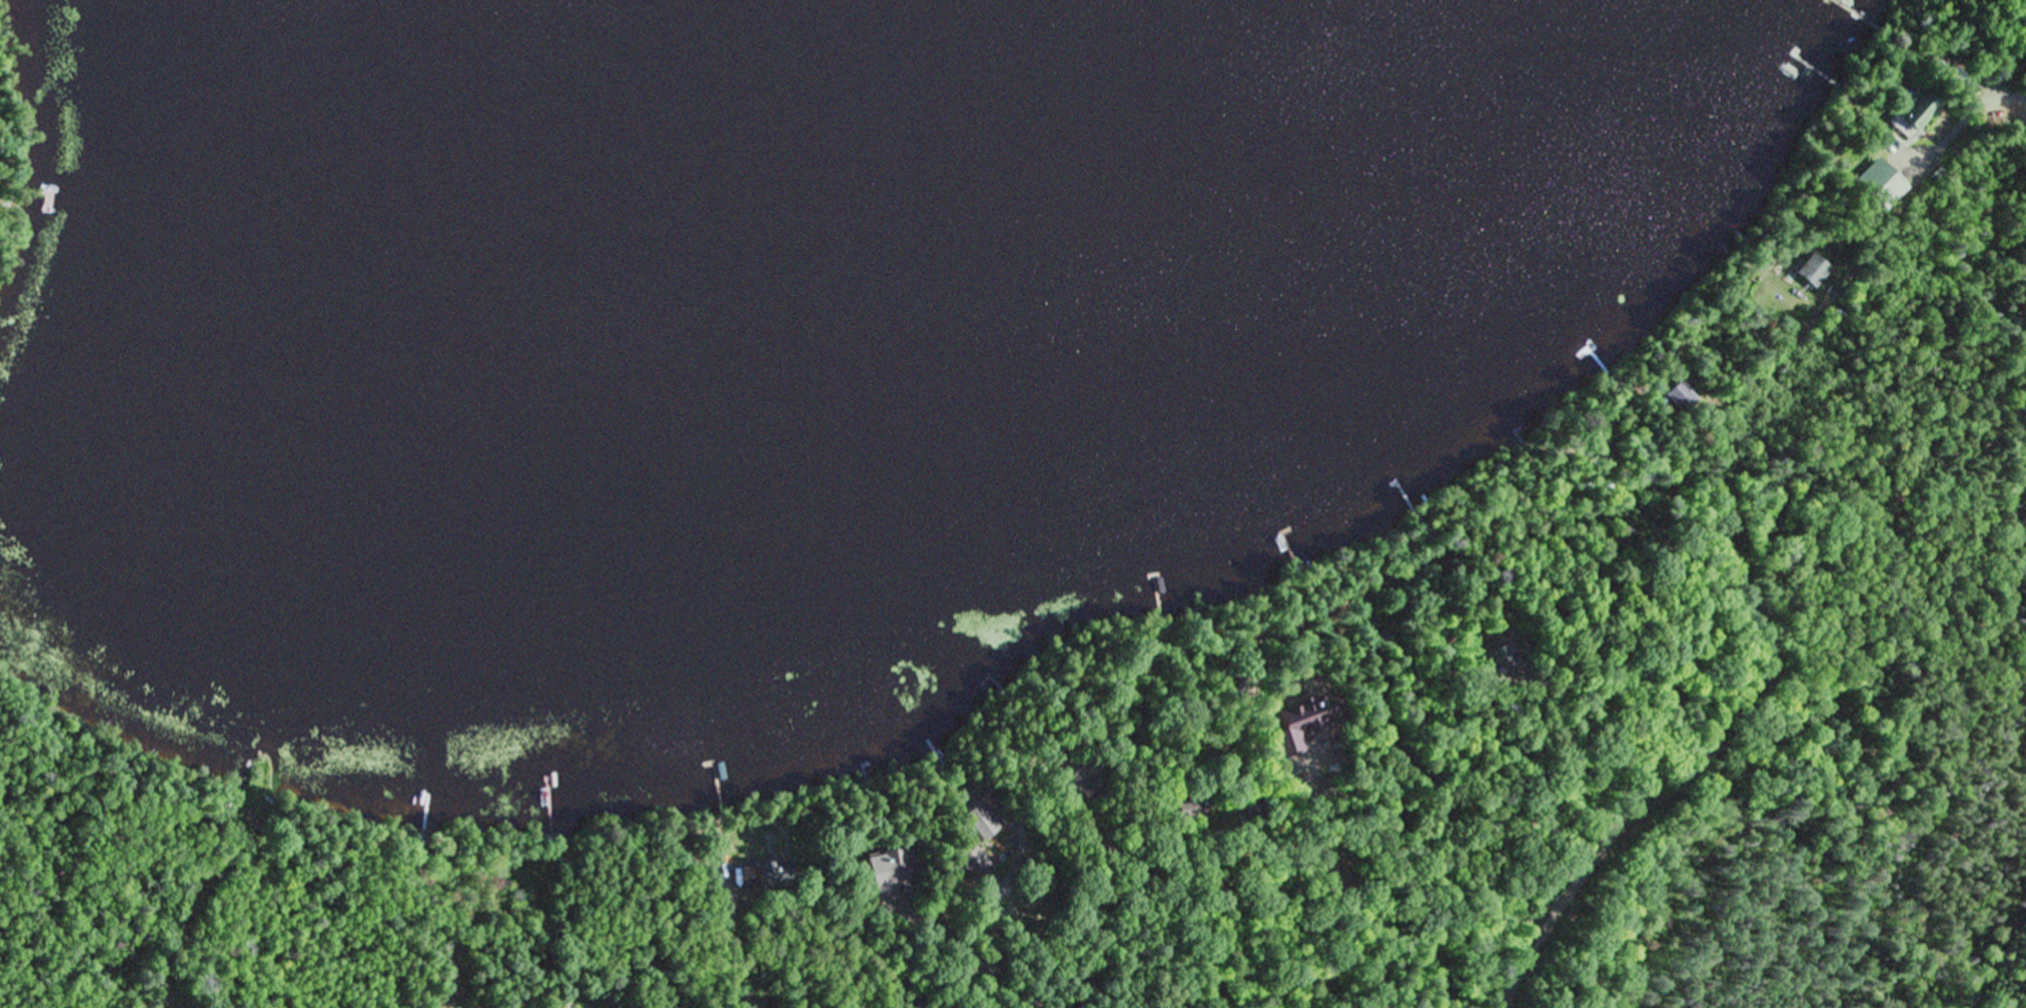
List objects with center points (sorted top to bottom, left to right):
building: (1909, 112)
building: (1878, 185)
building: (1807, 272)
building: (1676, 396)
building: (976, 819)
building: (873, 856)
building: (967, 864)
building: (760, 875)
road: (217, 916)
road: (1550, 920)
road: (315, 971)

